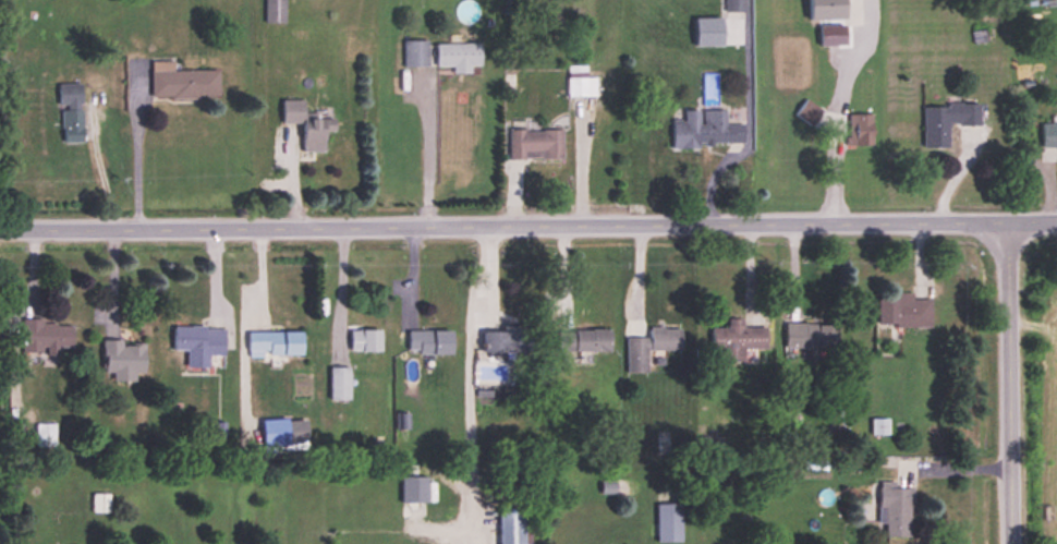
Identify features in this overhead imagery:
building: (734, 5)
building: (827, 10)
building: (275, 12)
building: (720, 32)
building: (415, 55)
building: (458, 57)
building: (182, 83)
building: (581, 84)
building: (70, 96)
building: (946, 122)
building: (306, 126)
building: (72, 128)
building: (706, 131)
building: (860, 131)
building: (1048, 136)
building: (536, 145)
road: (429, 152)
road: (584, 162)
road: (527, 223)
building: (903, 313)
building: (811, 337)
building: (47, 340)
building: (506, 341)
building: (583, 341)
building: (737, 341)
building: (365, 342)
building: (274, 343)
building: (429, 343)
building: (198, 344)
building: (651, 349)
building: (123, 361)
road: (1010, 382)
building: (339, 385)
building: (296, 433)
building: (45, 436)
building: (414, 499)
building: (99, 505)
building: (895, 511)
building: (511, 527)

